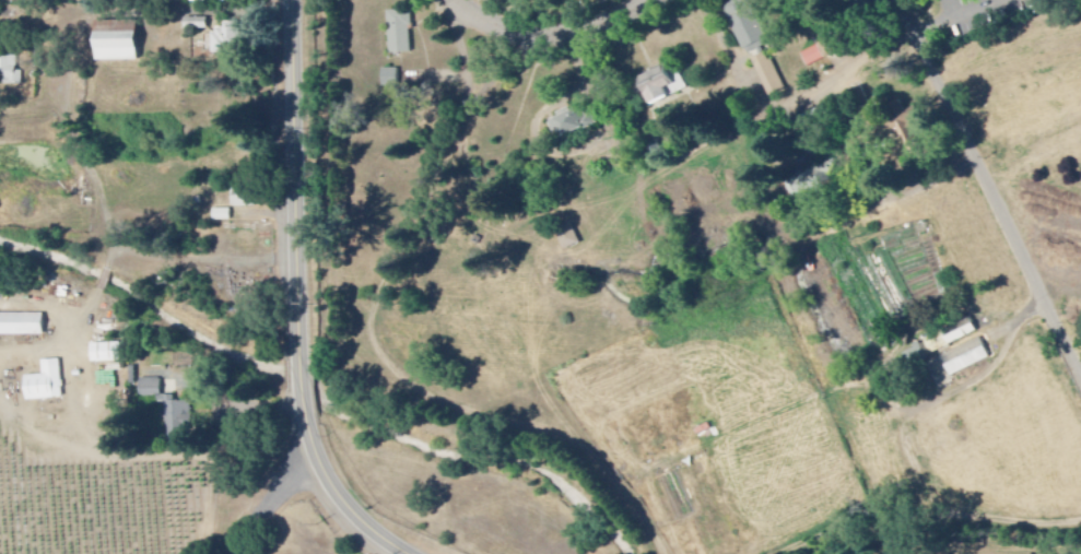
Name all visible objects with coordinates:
road: (966, 22)
building: (195, 24)
building: (743, 24)
building: (399, 32)
building: (116, 39)
building: (226, 39)
road: (556, 45)
road: (461, 59)
road: (736, 60)
building: (10, 72)
building: (767, 73)
building: (390, 79)
road: (841, 81)
building: (660, 84)
building: (571, 123)
building: (903, 125)
road: (862, 145)
road: (295, 173)
road: (91, 174)
road: (936, 186)
road: (990, 188)
building: (566, 238)
road: (103, 280)
road: (1021, 322)
building: (21, 323)
building: (950, 337)
road: (59, 339)
building: (105, 354)
road: (380, 356)
building: (966, 358)
road: (299, 370)
building: (45, 384)
crop: (838, 394)
road: (141, 456)
road: (333, 485)
road: (274, 499)
road: (947, 533)

